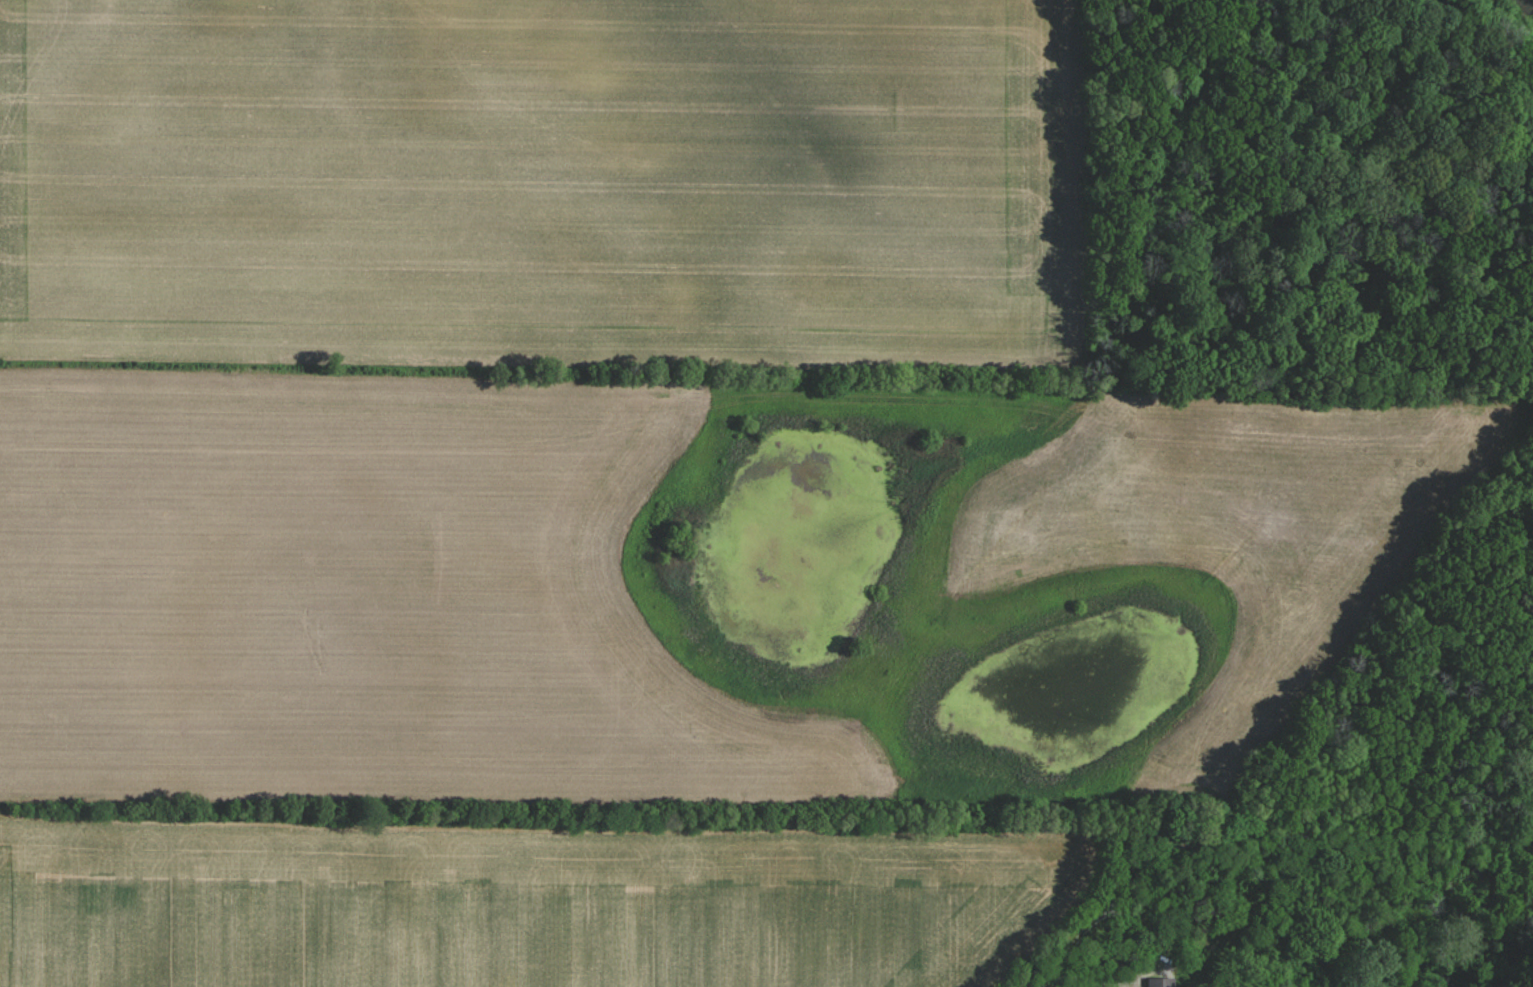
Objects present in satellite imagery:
river: (1509, 19)
building: (1163, 982)
road: (1042, 983)

